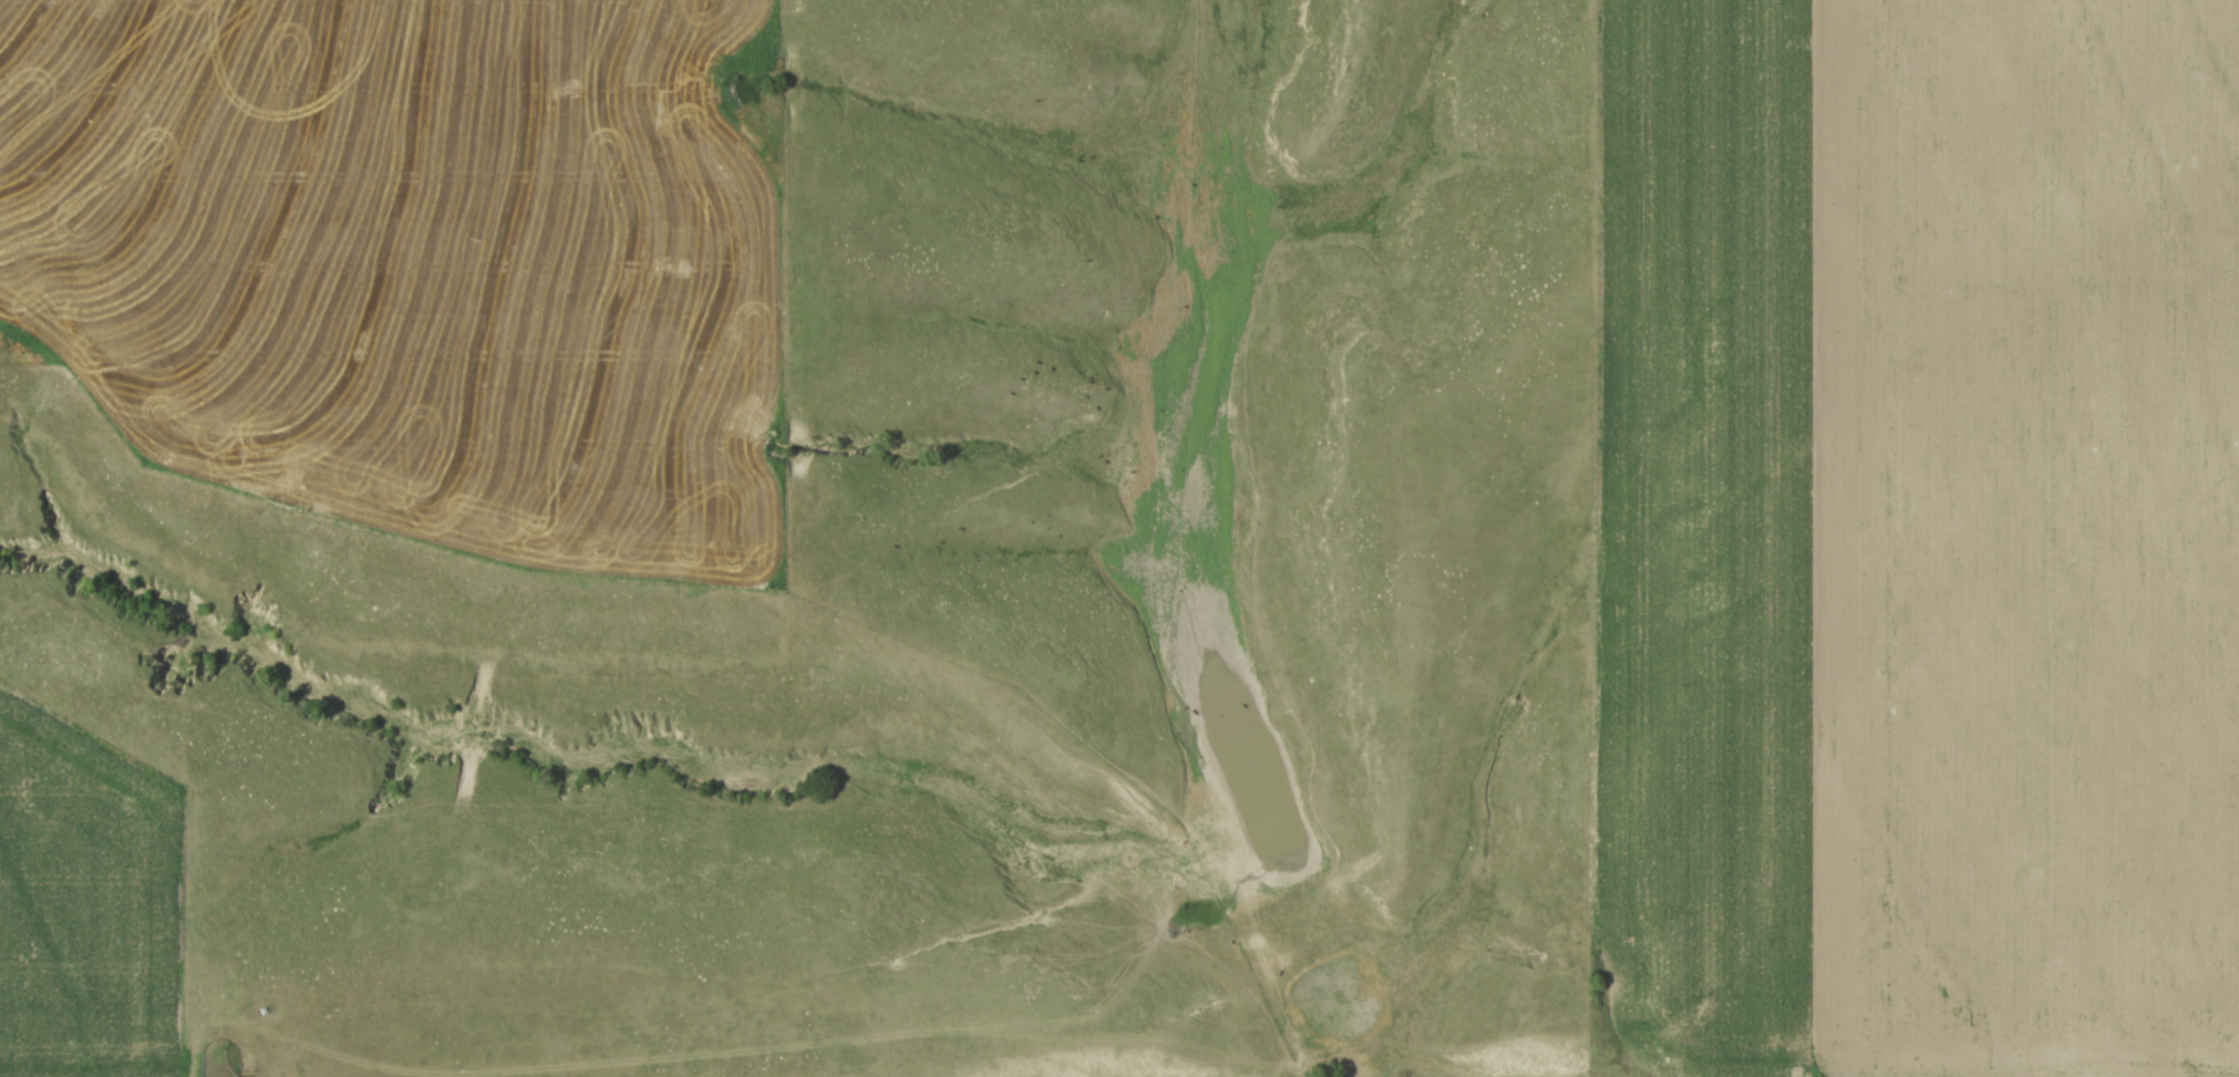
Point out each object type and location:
crop: (1915, 531)

